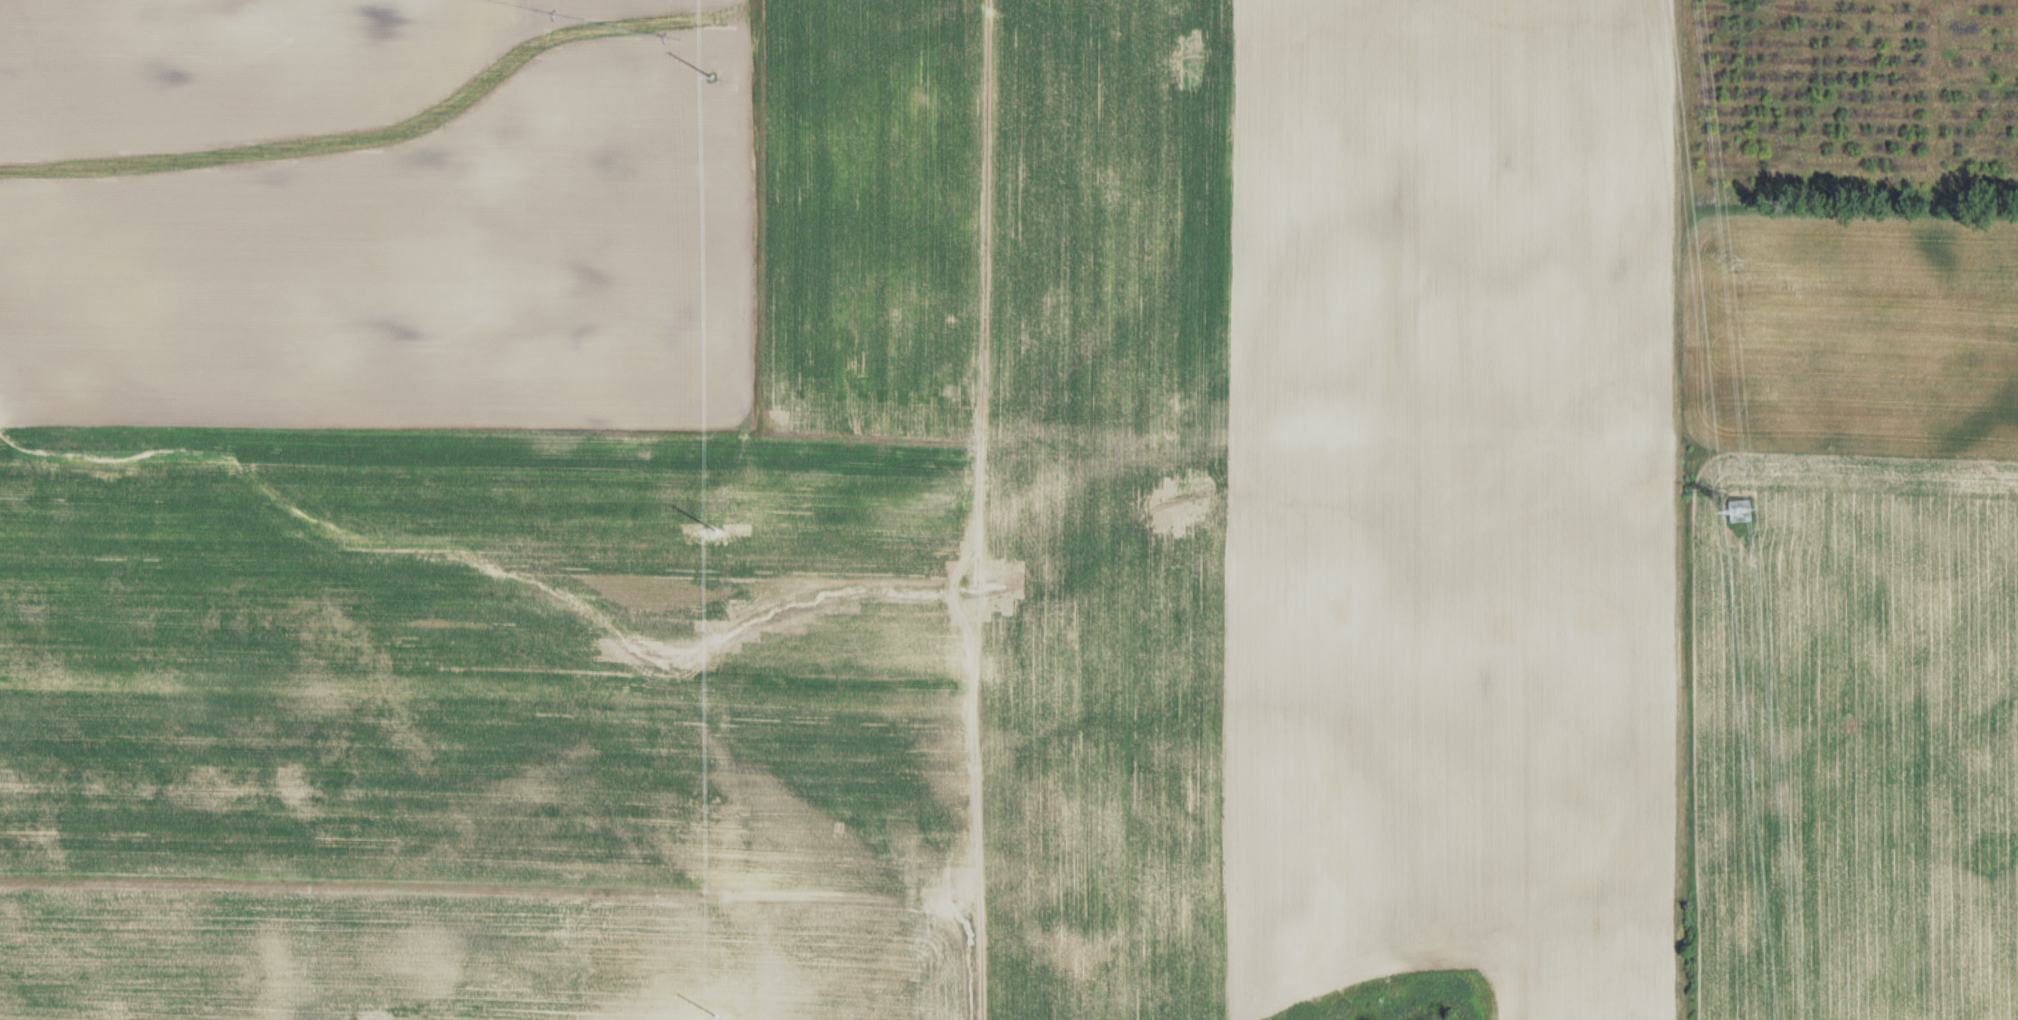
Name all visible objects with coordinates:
power tower: (1741, 508)

